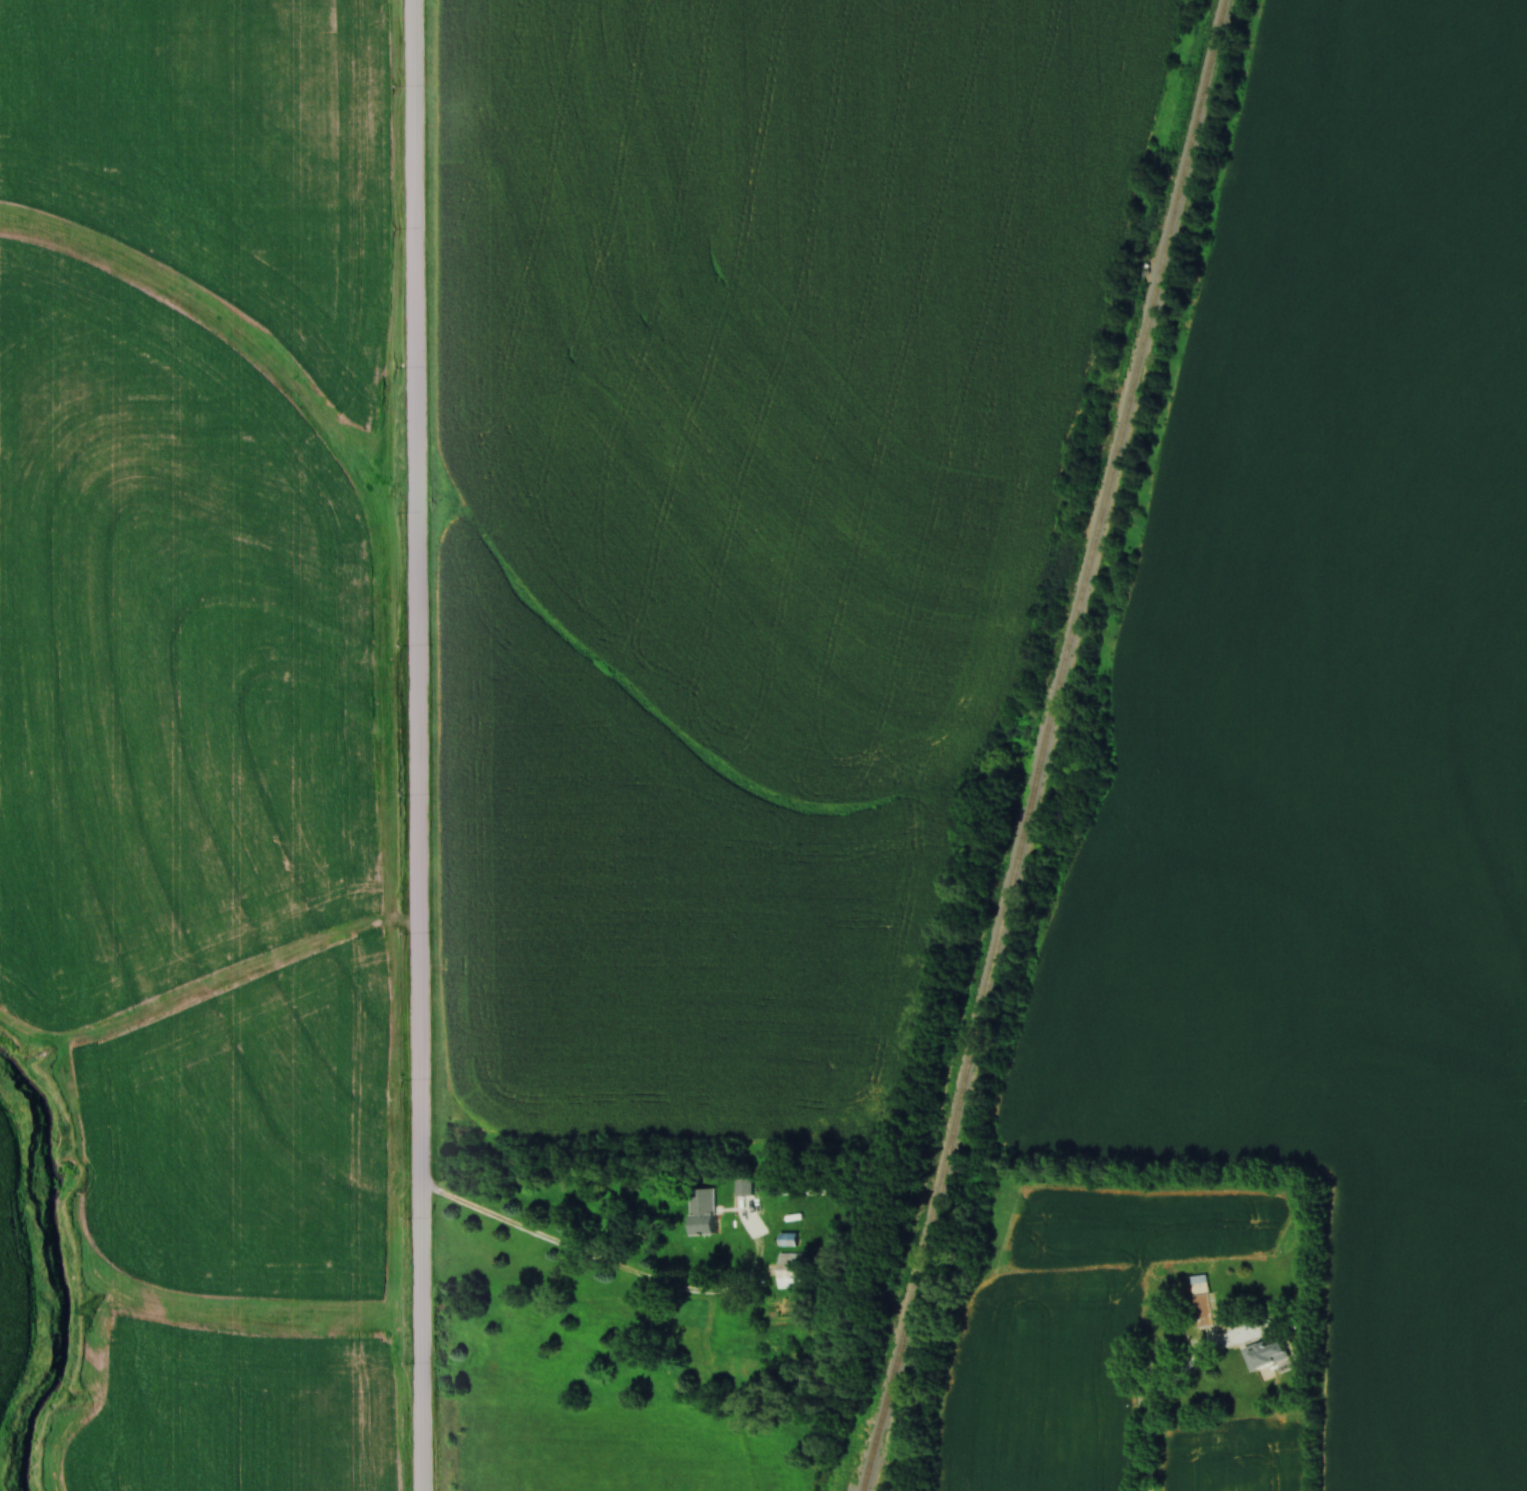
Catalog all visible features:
road: (422, 745)
railway: (1047, 745)
building: (743, 1187)
building: (824, 1191)
building: (703, 1212)
building: (788, 1240)
road: (609, 1267)
building: (794, 1272)
building: (1203, 1305)
building: (1266, 1354)
road: (1161, 1401)

